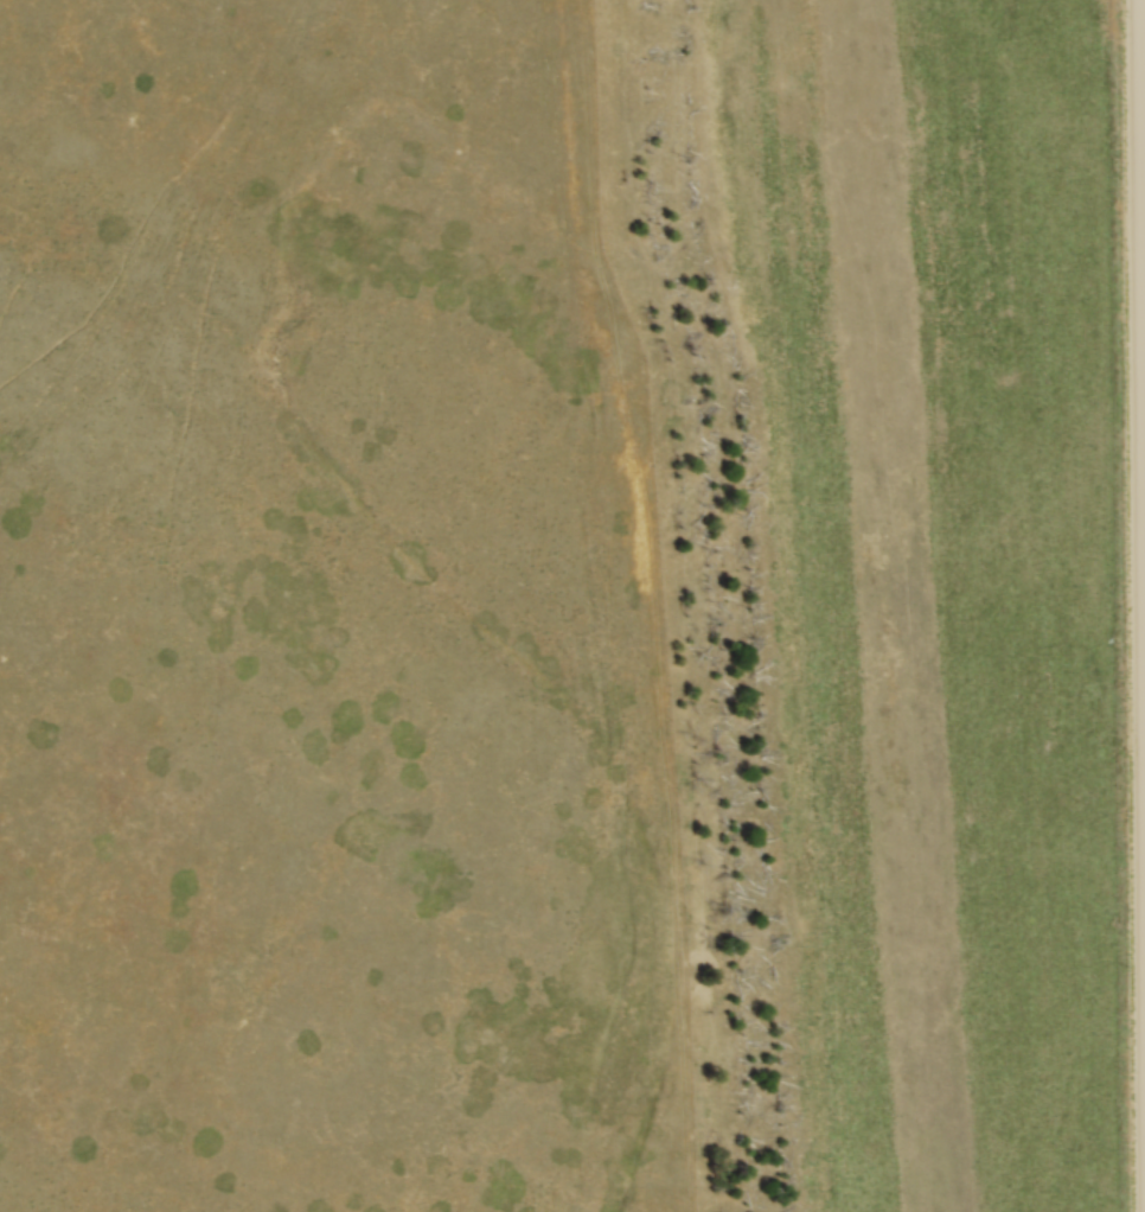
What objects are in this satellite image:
road: (1140, 495)
crop: (926, 578)

